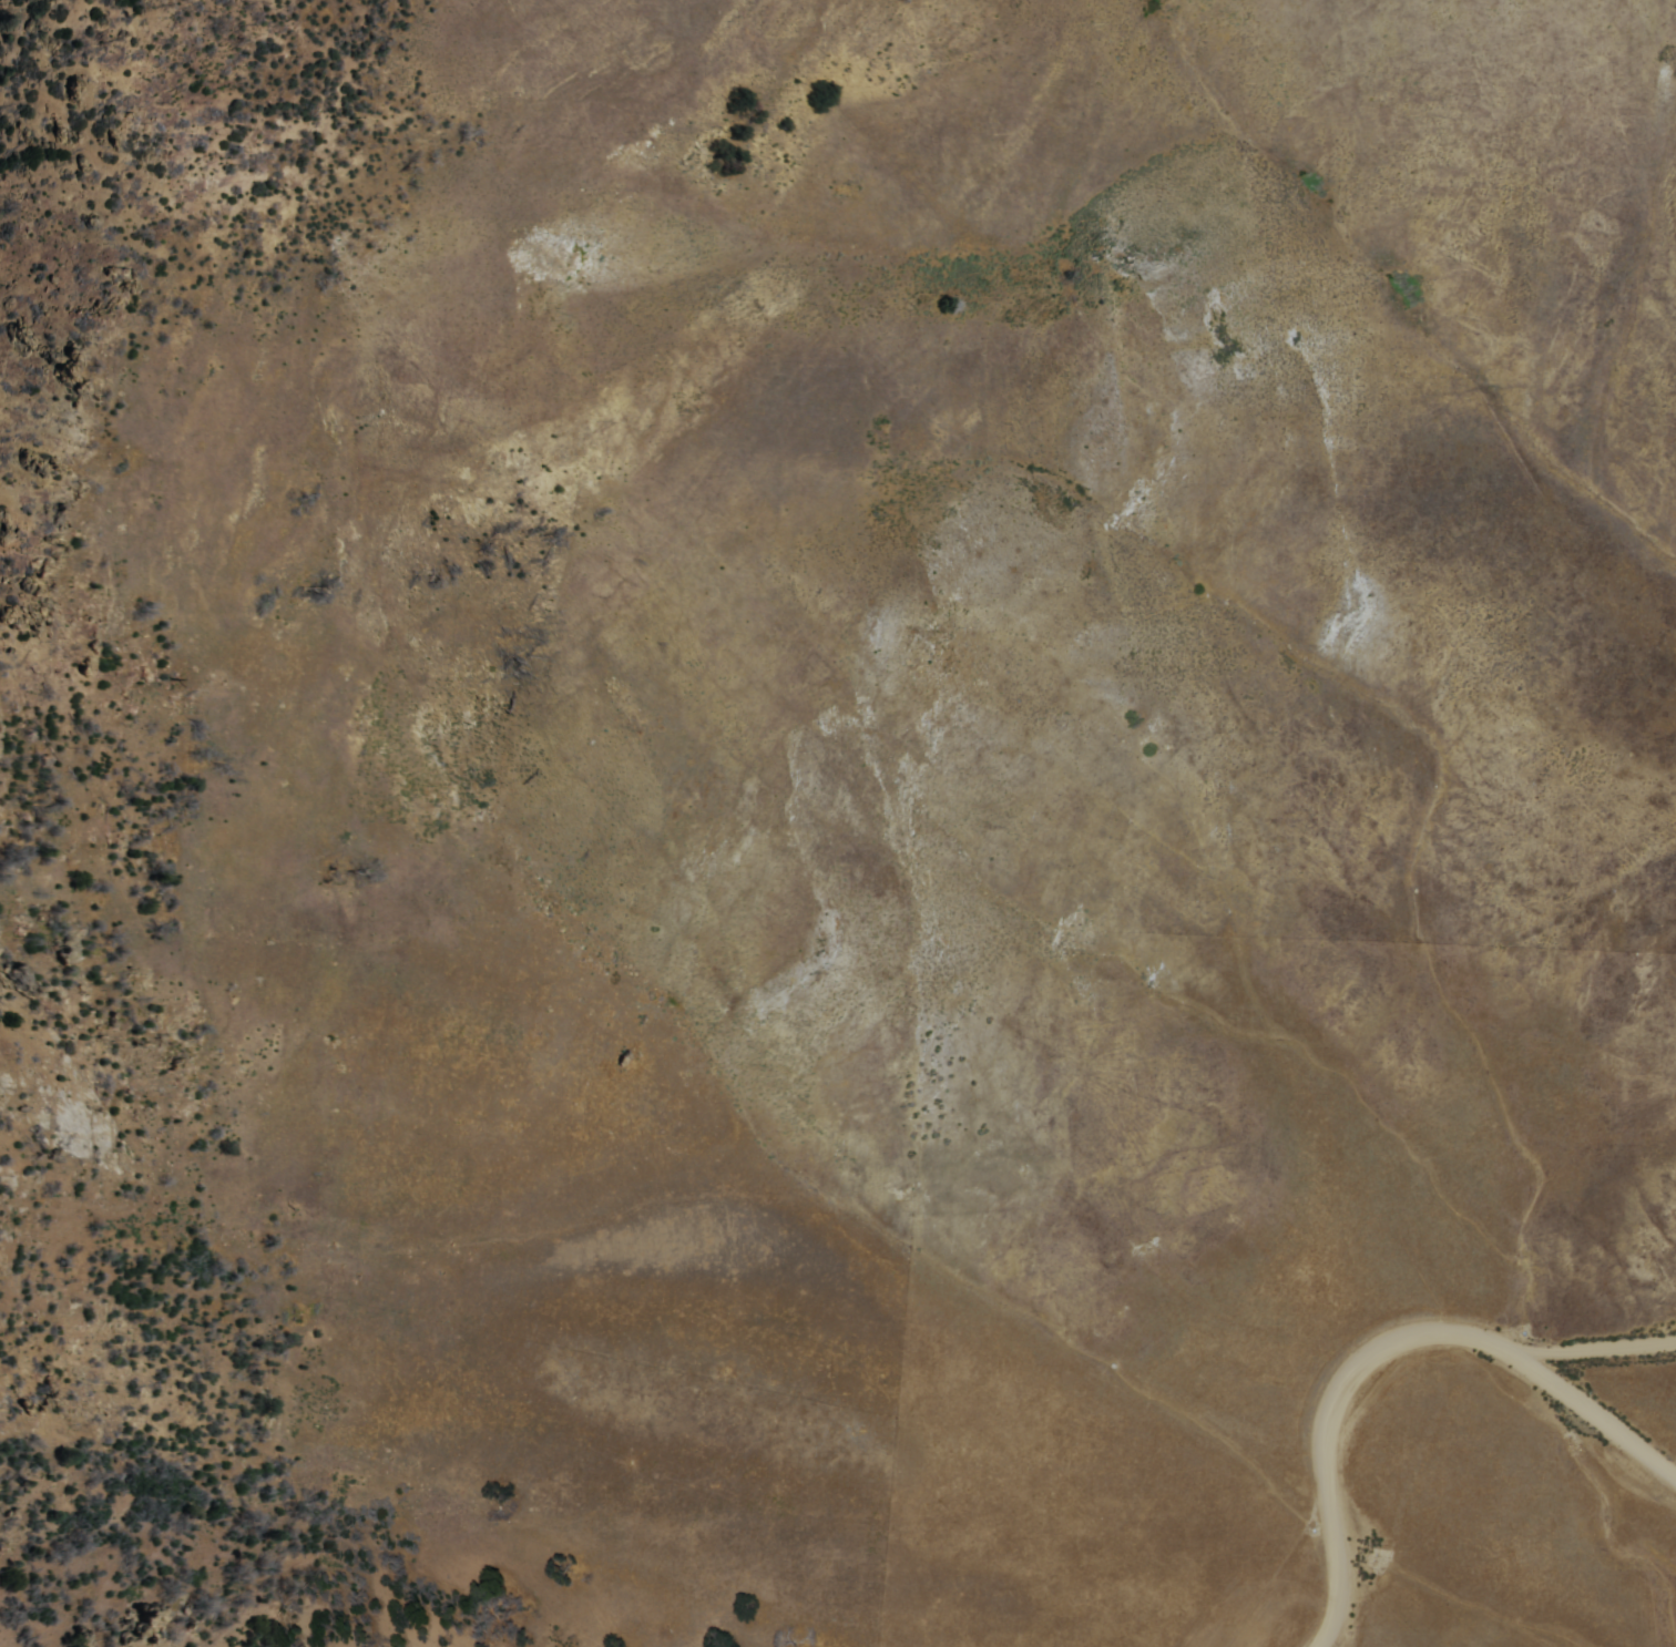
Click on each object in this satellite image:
road: (1483, 1352)

